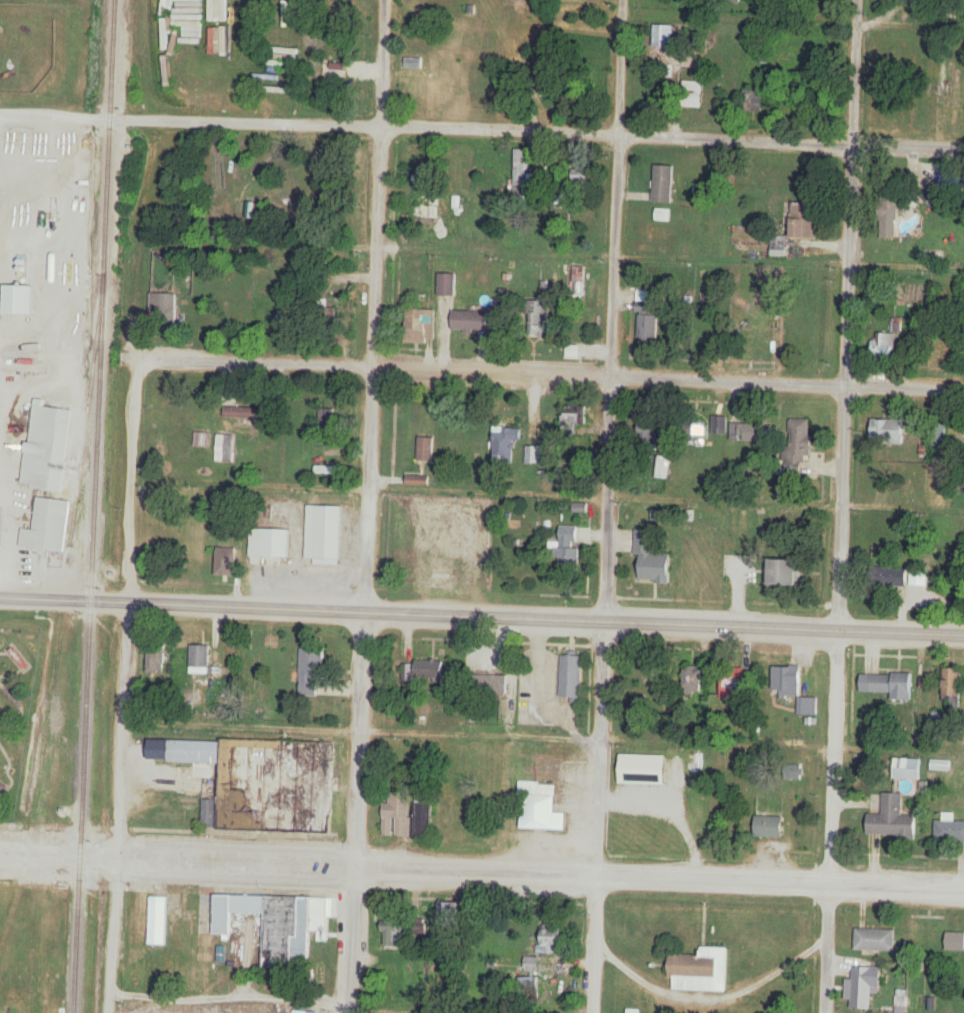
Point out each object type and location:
building: (662, 35)
building: (696, 42)
building: (325, 63)
building: (413, 63)
building: (543, 75)
building: (693, 91)
building: (753, 101)
road: (482, 129)
building: (521, 174)
building: (663, 184)
building: (936, 193)
building: (891, 211)
building: (421, 212)
building: (804, 219)
building: (745, 235)
building: (779, 249)
building: (446, 285)
building: (21, 300)
building: (166, 310)
building: (646, 317)
building: (534, 318)
building: (469, 321)
building: (420, 327)
building: (883, 346)
building: (572, 352)
road: (482, 368)
railway: (85, 418)
building: (325, 418)
building: (573, 418)
building: (719, 425)
building: (694, 431)
building: (888, 432)
building: (647, 433)
building: (747, 433)
building: (506, 444)
building: (798, 445)
building: (47, 447)
building: (425, 449)
building: (224, 450)
building: (532, 456)
building: (662, 467)
railway: (91, 506)
road: (367, 506)
road: (611, 506)
road: (842, 506)
building: (49, 526)
building: (328, 532)
building: (277, 543)
building: (569, 549)
building: (652, 560)
building: (227, 562)
building: (785, 573)
building: (903, 576)
road: (482, 615)
road: (129, 653)
building: (156, 658)
building: (200, 661)
building: (429, 670)
building: (312, 672)
building: (571, 676)
building: (787, 682)
building: (892, 685)
building: (952, 686)
road: (362, 729)
building: (907, 769)
building: (261, 782)
building: (537, 808)
building: (408, 810)
building: (208, 813)
building: (891, 817)
building: (766, 824)
building: (949, 831)
road: (481, 869)
building: (232, 910)
building: (448, 913)
building: (156, 921)
building: (290, 928)
building: (418, 928)
building: (391, 936)
building: (551, 939)
building: (954, 939)
building: (875, 940)
building: (929, 943)
building: (699, 971)
building: (530, 975)
road: (643, 978)
building: (865, 986)
road: (229, 997)

